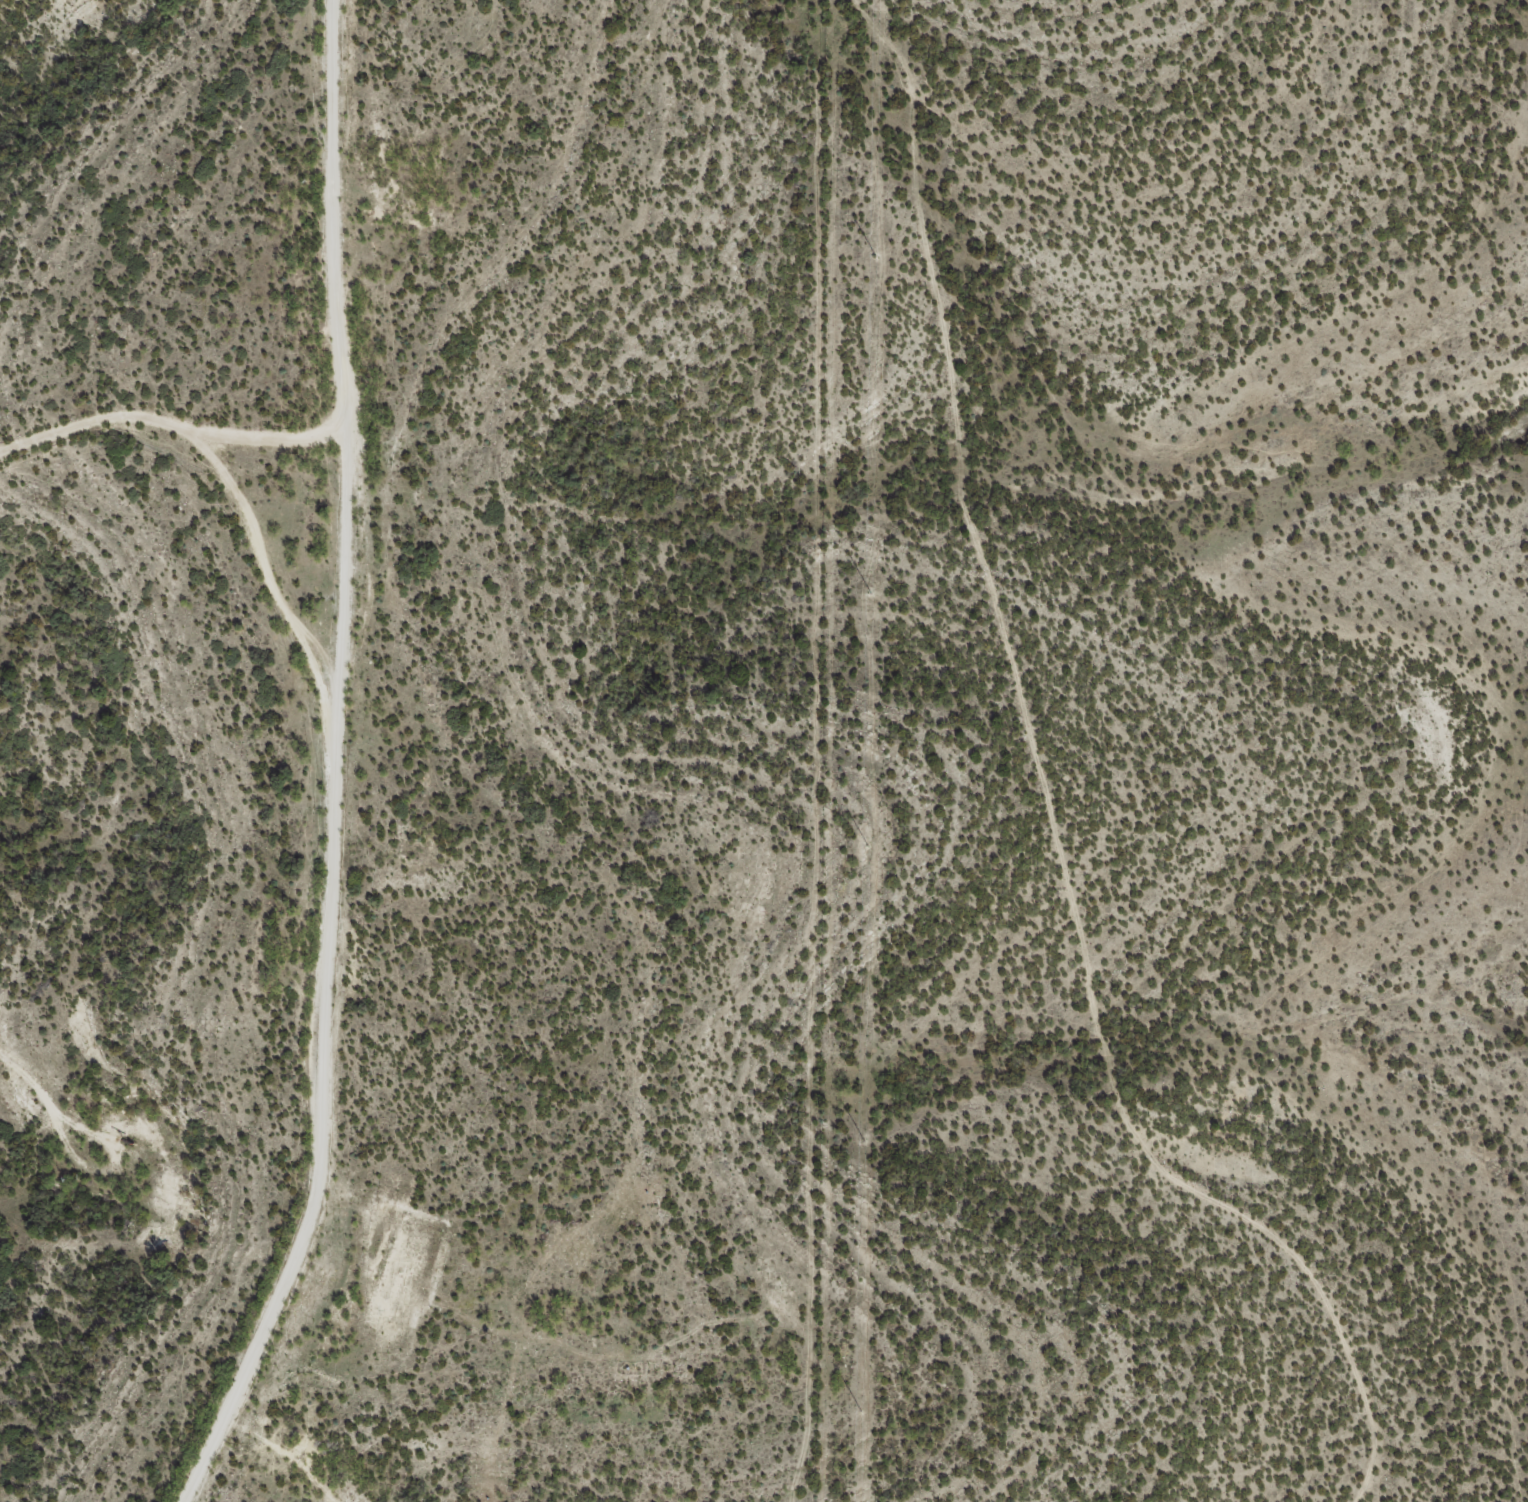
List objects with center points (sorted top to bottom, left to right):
road: (14, 5)
power tower: (874, 257)
road: (221, 495)
power tower: (869, 596)
road: (361, 757)
power tower: (865, 845)
power tower: (864, 1140)
power tower: (858, 1410)

